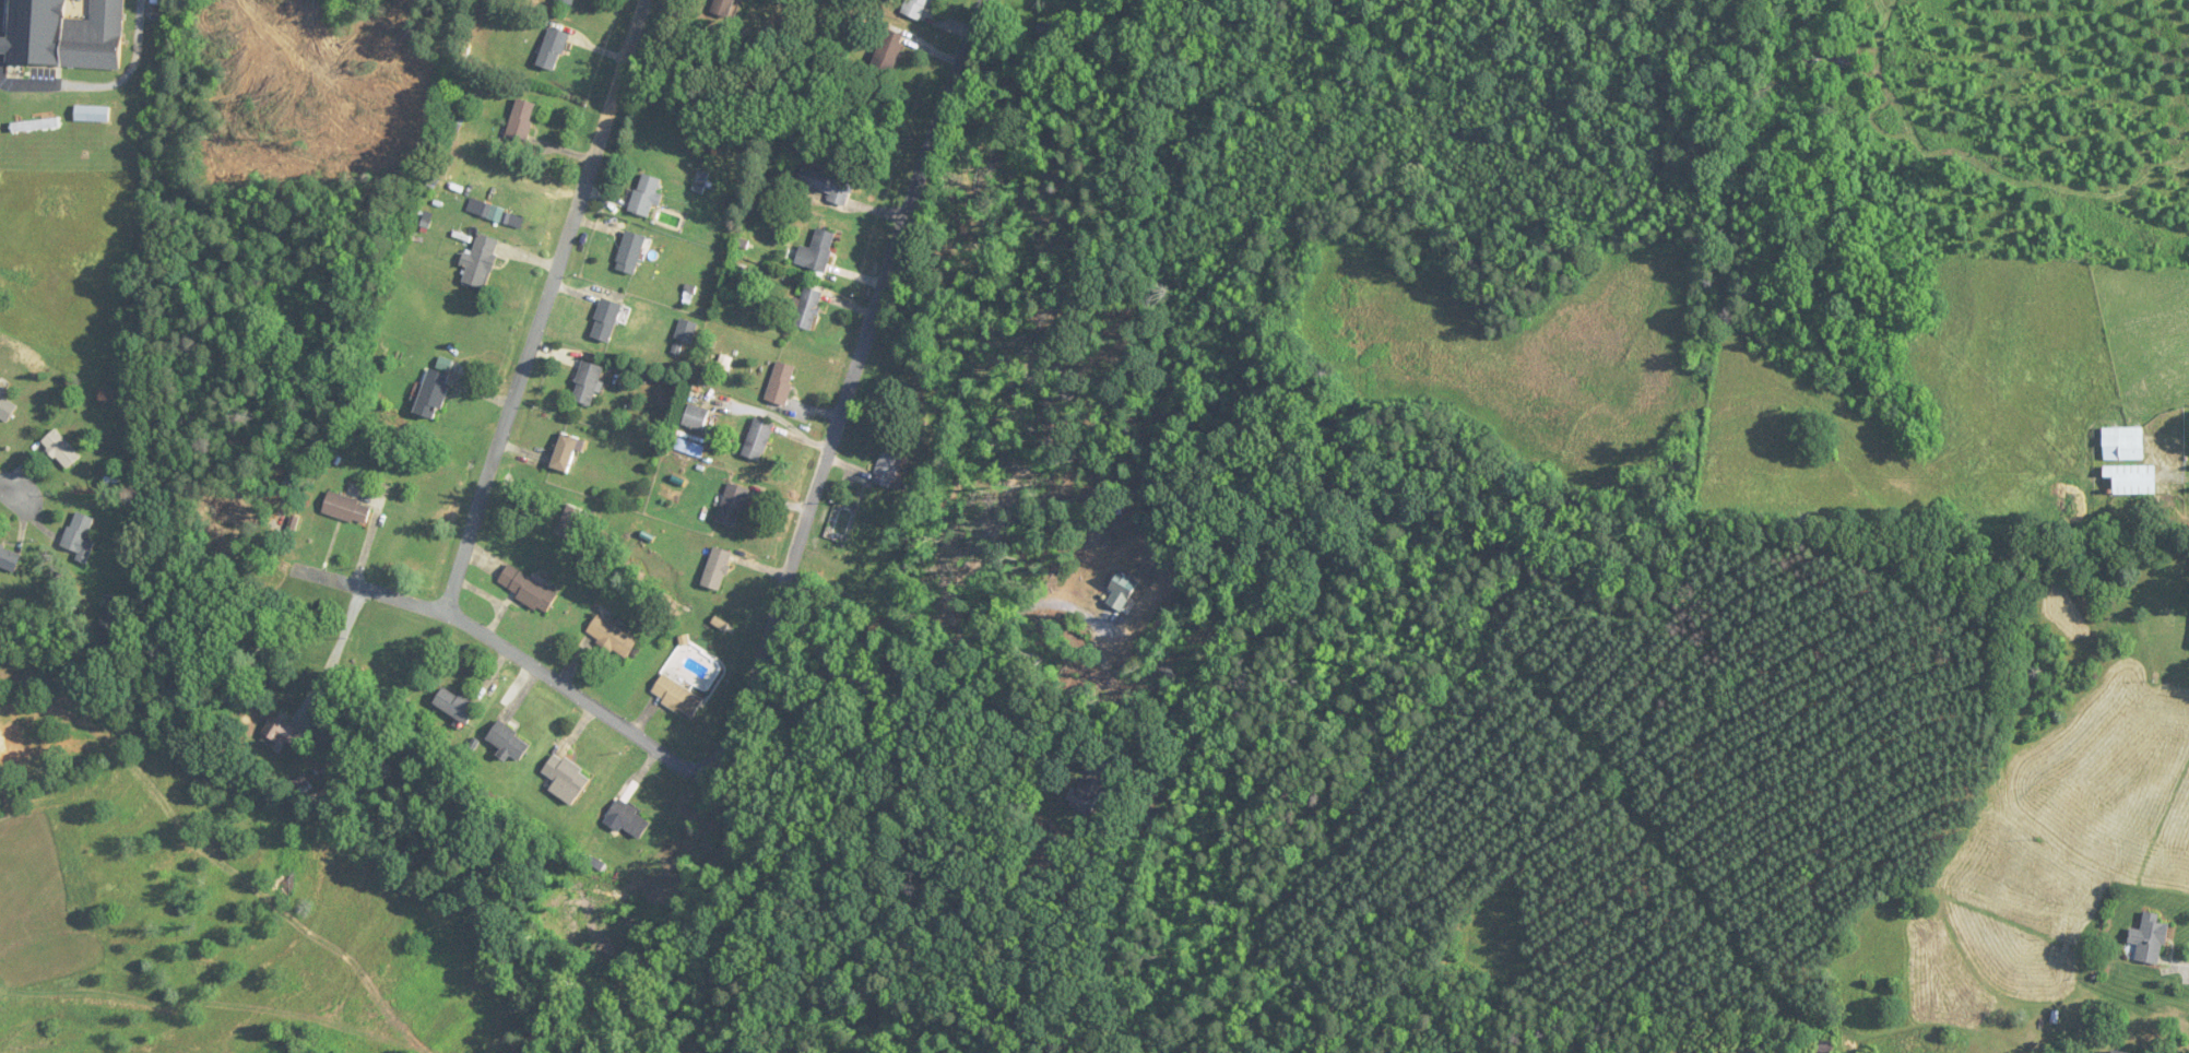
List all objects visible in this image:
building: (569, 2)
building: (725, 9)
building: (919, 9)
building: (67, 33)
building: (555, 50)
building: (890, 51)
building: (1830, 59)
building: (523, 122)
building: (832, 182)
building: (648, 196)
building: (819, 252)
building: (632, 253)
building: (482, 262)
road: (548, 306)
building: (809, 309)
building: (607, 321)
building: (687, 331)
building: (590, 383)
building: (783, 384)
building: (436, 391)
road: (849, 395)
building: (7, 407)
building: (698, 418)
building: (760, 440)
building: (2126, 442)
building: (690, 449)
building: (62, 450)
building: (567, 453)
building: (892, 466)
building: (2132, 480)
road: (10, 495)
building: (734, 506)
building: (348, 509)
building: (81, 537)
building: (9, 560)
building: (719, 569)
building: (529, 590)
building: (1121, 592)
building: (111, 615)
road: (931, 632)
building: (615, 638)
road: (332, 650)
road: (519, 659)
building: (681, 697)
building: (458, 706)
road: (1014, 714)
building: (510, 743)
building: (569, 779)
building: (1089, 795)
building: (631, 819)
building: (2149, 939)
building: (2115, 1052)

